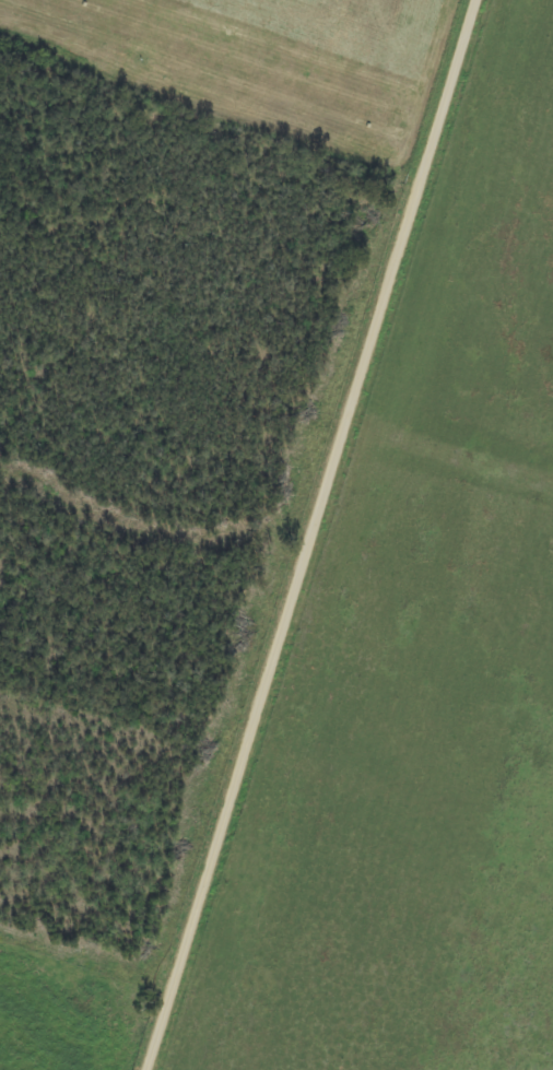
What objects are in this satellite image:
road: (337, 534)

